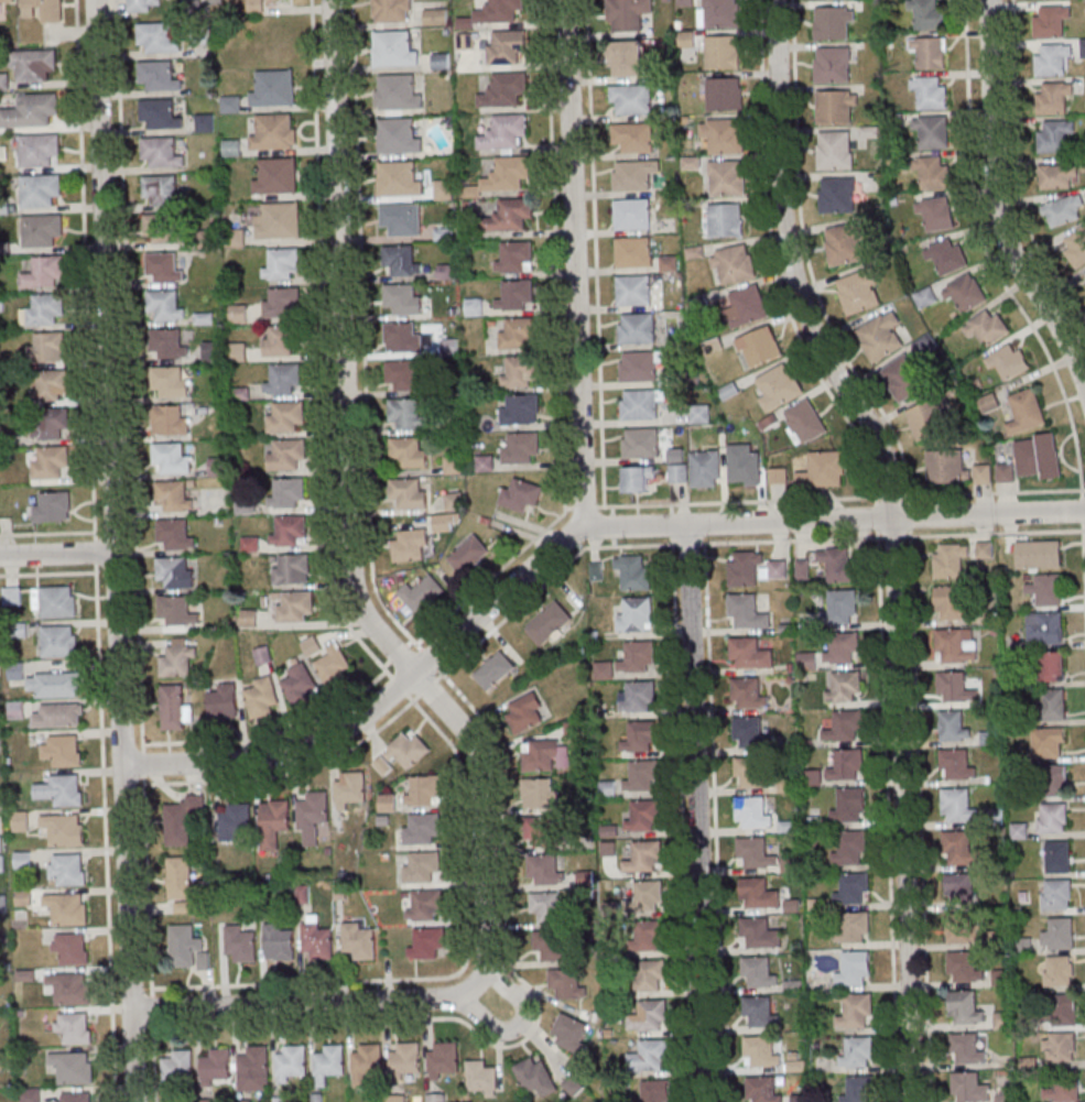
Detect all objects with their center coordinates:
building: (208, 0)
building: (6, 2)
building: (143, 4)
building: (258, 6)
building: (41, 10)
building: (501, 10)
building: (392, 11)
building: (926, 13)
building: (628, 14)
building: (720, 14)
building: (435, 18)
building: (1051, 20)
building: (834, 24)
building: (156, 37)
building: (506, 47)
building: (1083, 47)
building: (393, 50)
building: (723, 53)
building: (930, 53)
building: (1052, 58)
building: (626, 59)
building: (441, 62)
building: (32, 65)
building: (833, 66)
building: (158, 77)
building: (3, 81)
building: (274, 88)
building: (506, 89)
building: (930, 92)
building: (397, 94)
building: (724, 95)
building: (1054, 98)
building: (631, 101)
building: (230, 105)
building: (836, 107)
building: (31, 111)
building: (159, 116)
building: (274, 131)
building: (506, 131)
building: (933, 132)
building: (1054, 135)
building: (723, 137)
building: (398, 138)
building: (632, 139)
building: (37, 150)
building: (835, 150)
building: (160, 153)
building: (932, 171)
building: (509, 173)
building: (276, 177)
building: (632, 177)
building: (1059, 177)
building: (727, 179)
building: (398, 181)
building: (40, 190)
building: (161, 190)
building: (837, 195)
road: (996, 203)
building: (1063, 212)
building: (512, 214)
building: (631, 214)
building: (936, 214)
building: (401, 220)
building: (725, 221)
building: (278, 222)
building: (43, 228)
building: (160, 228)
building: (845, 246)
building: (1076, 247)
building: (632, 253)
road: (553, 254)
building: (946, 255)
building: (513, 257)
road: (594, 257)
building: (400, 262)
building: (280, 263)
road: (574, 263)
road: (83, 265)
building: (734, 265)
building: (163, 268)
building: (44, 274)
building: (1084, 274)
building: (633, 291)
building: (858, 293)
building: (965, 293)
building: (514, 295)
building: (402, 301)
building: (281, 303)
building: (165, 305)
building: (747, 306)
building: (44, 312)
building: (238, 315)
building: (987, 327)
building: (636, 329)
building: (518, 334)
building: (880, 337)
building: (405, 339)
building: (280, 340)
building: (167, 345)
building: (759, 347)
building: (48, 349)
building: (213, 352)
road: (323, 361)
building: (1008, 361)
building: (638, 367)
building: (518, 372)
building: (403, 377)
building: (281, 379)
building: (903, 379)
building: (169, 383)
building: (50, 385)
building: (778, 385)
road: (128, 392)
building: (639, 405)
building: (520, 411)
building: (1027, 411)
building: (406, 415)
building: (285, 417)
building: (170, 422)
building: (805, 422)
building: (926, 422)
building: (50, 425)
building: (640, 444)
building: (520, 448)
building: (408, 454)
building: (285, 455)
building: (1038, 456)
building: (171, 459)
building: (48, 462)
building: (745, 465)
building: (454, 466)
building: (946, 467)
building: (706, 469)
building: (823, 470)
building: (679, 472)
building: (637, 478)
road: (1082, 490)
building: (285, 493)
building: (409, 494)
building: (173, 495)
building: (17, 497)
building: (521, 497)
building: (454, 502)
road: (738, 502)
building: (53, 508)
road: (583, 508)
road: (567, 509)
building: (444, 524)
building: (287, 532)
building: (175, 534)
road: (566, 536)
road: (894, 538)
building: (410, 547)
building: (985, 549)
road: (112, 550)
road: (93, 552)
road: (56, 554)
road: (1082, 554)
building: (1038, 555)
building: (469, 556)
building: (950, 560)
building: (838, 566)
building: (753, 568)
building: (290, 569)
building: (633, 571)
building: (174, 572)
building: (1046, 590)
building: (422, 594)
building: (10, 596)
building: (56, 602)
building: (952, 603)
building: (294, 607)
building: (843, 608)
building: (176, 611)
building: (746, 612)
building: (636, 614)
building: (249, 619)
building: (549, 623)
building: (1045, 629)
building: (57, 642)
building: (956, 646)
building: (843, 648)
building: (749, 654)
building: (263, 655)
building: (637, 658)
building: (177, 659)
building: (1052, 666)
building: (334, 668)
road: (409, 669)
building: (495, 669)
building: (14, 670)
building: (57, 686)
building: (299, 686)
building: (844, 687)
building: (955, 687)
building: (748, 694)
building: (637, 697)
building: (262, 698)
building: (223, 701)
building: (1053, 703)
building: (174, 708)
building: (14, 710)
building: (525, 712)
building: (59, 716)
building: (954, 725)
building: (845, 728)
building: (749, 733)
building: (639, 738)
building: (1050, 742)
building: (61, 751)
building: (402, 754)
building: (545, 756)
building: (956, 764)
building: (847, 766)
building: (750, 772)
building: (640, 776)
building: (1052, 782)
building: (349, 789)
building: (65, 790)
building: (424, 792)
building: (540, 793)
building: (387, 804)
building: (850, 806)
building: (957, 806)
building: (312, 811)
road: (697, 812)
building: (751, 812)
building: (642, 817)
building: (274, 819)
building: (1052, 819)
building: (19, 821)
building: (182, 821)
building: (234, 821)
building: (421, 829)
building: (62, 830)
building: (1019, 830)
building: (541, 831)
road: (104, 837)
building: (0, 847)
building: (959, 847)
building: (850, 848)
building: (752, 852)
building: (1059, 856)
building: (643, 858)
building: (21, 861)
building: (0, 864)
building: (791, 864)
building: (421, 869)
building: (67, 870)
building: (543, 870)
building: (180, 877)
building: (959, 885)
building: (853, 888)
building: (757, 894)
building: (1056, 895)
building: (643, 897)
building: (21, 898)
building: (2, 904)
building: (423, 907)
building: (546, 908)
building: (65, 909)
building: (853, 927)
building: (963, 929)
building: (759, 934)
building: (1060, 934)
building: (645, 937)
building: (316, 941)
building: (278, 942)
building: (357, 942)
road: (147, 943)
building: (425, 943)
building: (239, 945)
building: (186, 947)
building: (554, 947)
building: (70, 949)
building: (856, 968)
building: (964, 968)
building: (757, 972)
building: (1059, 972)
building: (648, 976)
building: (566, 984)
building: (70, 990)
building: (965, 1010)
building: (1065, 1010)
building: (758, 1012)
building: (856, 1013)
building: (647, 1016)
road: (517, 1023)
building: (73, 1028)
building: (571, 1035)
building: (1061, 1048)
building: (967, 1050)
building: (760, 1052)
building: (858, 1052)
building: (649, 1056)
building: (3, 1060)
building: (441, 1060)
building: (365, 1063)
building: (402, 1063)
building: (327, 1065)
building: (289, 1066)
building: (70, 1068)
building: (214, 1068)
building: (175, 1070)
building: (251, 1070)
building: (535, 1078)
building: (481, 1079)
building: (573, 1085)
building: (970, 1089)
building: (760, 1090)
building: (859, 1090)
building: (1067, 1090)
building: (653, 1091)
building: (29, 1095)
building: (74, 1098)
building: (799, 1099)
building: (206, 1101)

